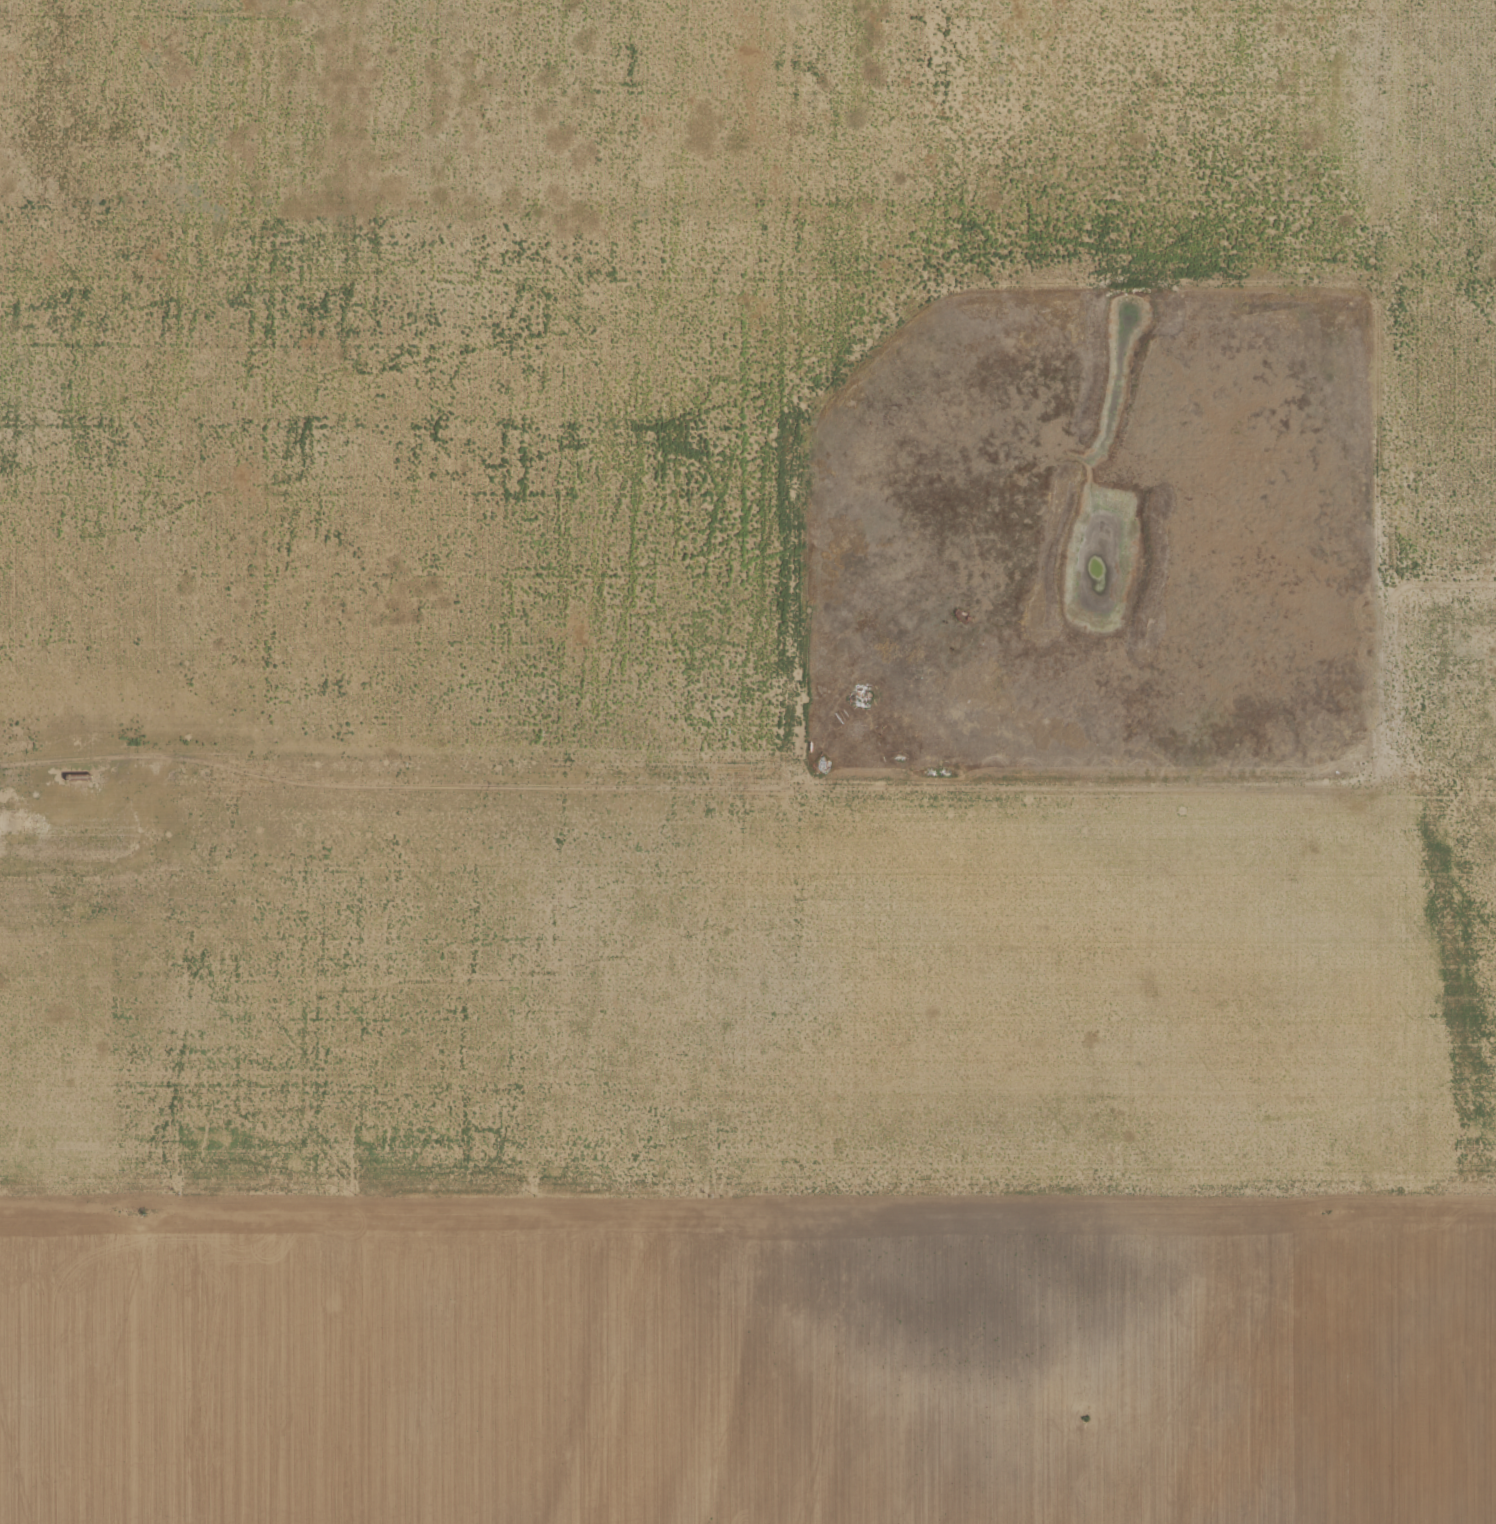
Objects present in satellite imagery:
road: (64, 1147)

